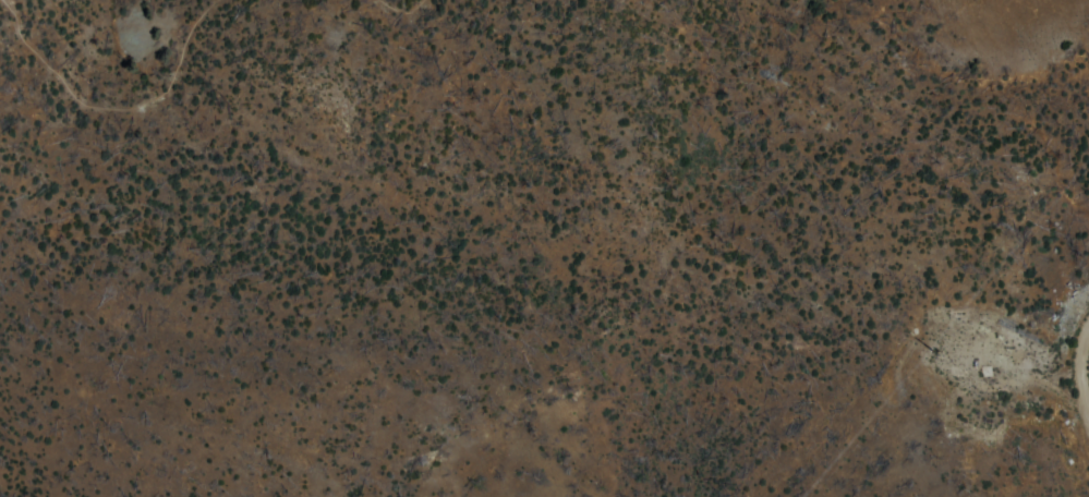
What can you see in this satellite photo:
road: (401, 12)
road: (112, 107)
road: (1070, 371)

